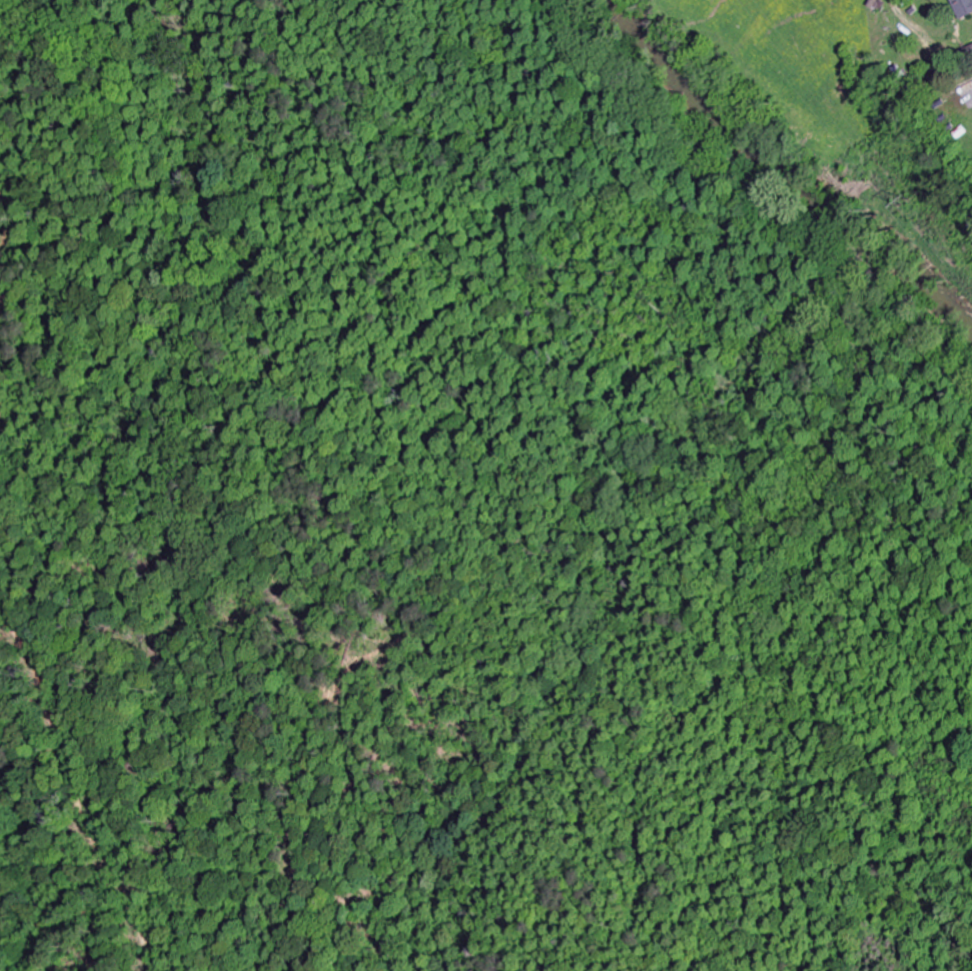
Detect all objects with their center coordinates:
building: (965, 8)

